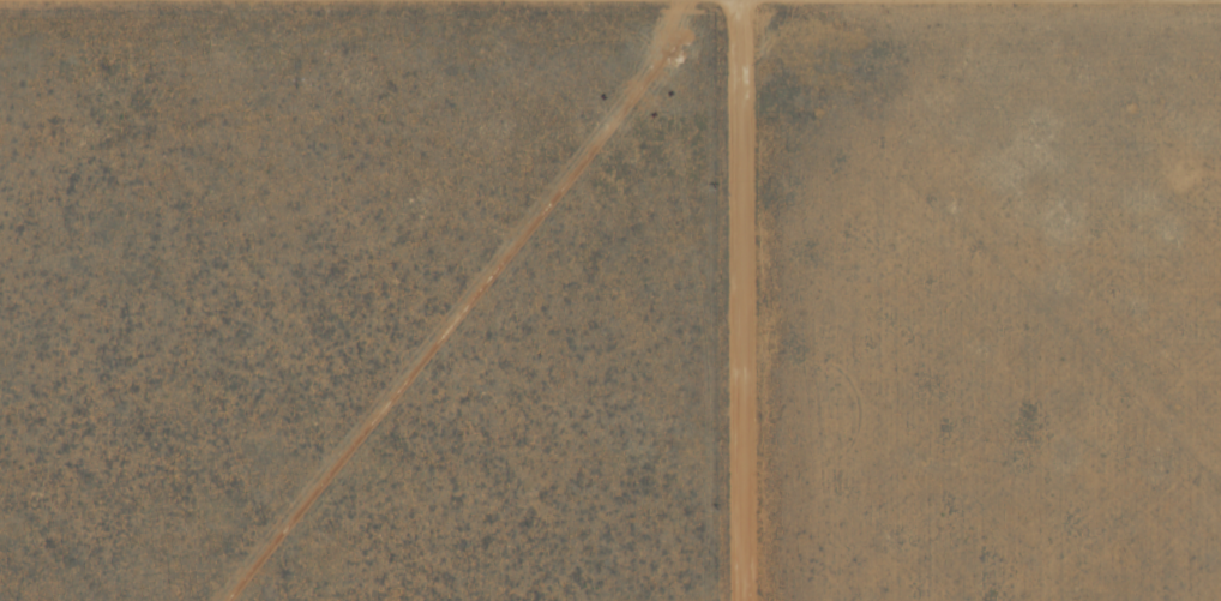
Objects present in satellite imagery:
road: (741, 300)

